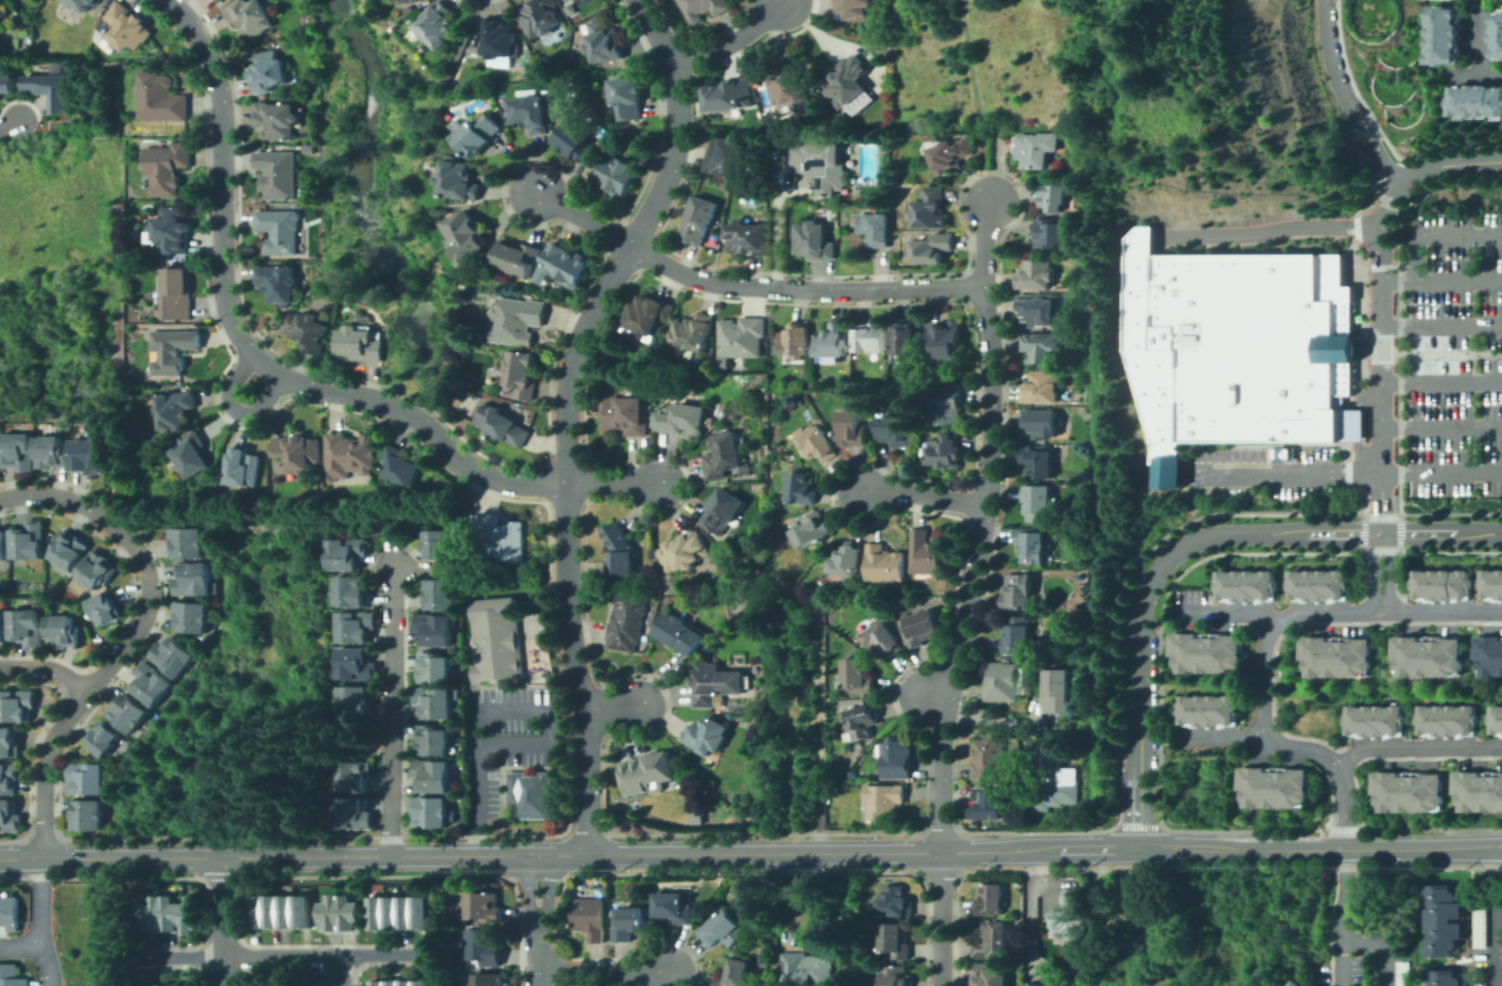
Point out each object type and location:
building: (216, 0)
building: (221, 1)
building: (406, 1)
building: (419, 1)
building: (83, 4)
building: (852, 7)
building: (704, 8)
building: (3, 12)
building: (251, 17)
building: (541, 17)
building: (438, 25)
building: (127, 28)
building: (1445, 36)
building: (1497, 36)
building: (498, 38)
road: (734, 41)
building: (606, 42)
road: (1479, 49)
park: (1387, 57)
building: (268, 72)
road: (1462, 76)
building: (847, 81)
building: (7, 83)
building: (787, 84)
building: (48, 90)
building: (730, 95)
building: (629, 96)
building: (160, 99)
road: (1346, 99)
building: (551, 101)
road: (977, 101)
building: (1477, 101)
building: (766, 110)
building: (531, 113)
building: (842, 117)
building: (277, 120)
road: (10, 125)
building: (773, 129)
building: (478, 135)
building: (845, 135)
building: (577, 143)
building: (1038, 149)
building: (952, 155)
building: (728, 157)
building: (817, 162)
building: (167, 167)
road: (1424, 170)
building: (279, 174)
building: (616, 176)
building: (458, 180)
building: (1058, 197)
building: (933, 209)
road: (586, 220)
building: (699, 220)
building: (875, 228)
building: (172, 231)
building: (280, 231)
building: (467, 232)
building: (1052, 233)
road: (1267, 233)
road: (1140, 236)
building: (747, 238)
road: (1421, 238)
building: (815, 241)
road: (984, 246)
building: (933, 248)
building: (518, 258)
building: (564, 265)
building: (1037, 274)
road: (1460, 280)
building: (278, 283)
road: (805, 289)
building: (177, 293)
building: (1039, 309)
building: (159, 313)
building: (650, 315)
building: (517, 321)
road: (1442, 326)
building: (309, 331)
building: (694, 331)
building: (871, 337)
building: (741, 338)
building: (946, 338)
building: (668, 340)
building: (796, 340)
building: (833, 340)
building: (907, 340)
building: (359, 345)
road: (244, 346)
building: (1042, 347)
building: (1240, 348)
building: (173, 350)
parking lot: (1456, 356)
road: (1122, 360)
building: (521, 374)
road: (1382, 381)
road: (1442, 382)
building: (482, 386)
building: (1043, 387)
building: (1077, 396)
building: (946, 403)
building: (175, 410)
road: (236, 411)
road: (569, 411)
building: (625, 415)
building: (682, 419)
building: (1042, 422)
building: (503, 426)
road: (1442, 428)
building: (851, 429)
building: (898, 431)
building: (817, 444)
building: (946, 450)
building: (18, 452)
building: (299, 452)
building: (51, 453)
building: (192, 454)
building: (87, 456)
building: (350, 456)
building: (725, 457)
building: (1037, 462)
building: (401, 467)
building: (244, 468)
parking lot: (1269, 471)
road: (1169, 474)
road: (1284, 474)
road: (1443, 474)
road: (615, 484)
building: (801, 488)
road: (922, 498)
building: (1037, 502)
building: (723, 510)
building: (812, 529)
road: (1443, 533)
building: (500, 538)
road: (1383, 539)
building: (28, 541)
building: (188, 543)
building: (437, 545)
building: (1031, 545)
building: (3, 546)
building: (68, 550)
building: (685, 551)
building: (621, 552)
building: (926, 552)
building: (346, 554)
building: (847, 560)
building: (885, 564)
building: (96, 571)
road: (409, 571)
road: (973, 571)
building: (193, 580)
building: (1319, 585)
building: (1442, 585)
building: (1492, 585)
building: (1247, 586)
building: (351, 590)
road: (1147, 590)
building: (1018, 591)
building: (442, 595)
building: (897, 603)
road: (1382, 604)
building: (104, 609)
road: (1382, 609)
road: (1227, 612)
building: (883, 613)
building: (739, 616)
road: (1291, 616)
building: (192, 618)
building: (628, 622)
building: (356, 626)
building: (2, 627)
building: (28, 628)
building: (921, 628)
building: (435, 630)
building: (63, 631)
building: (680, 633)
building: (1018, 634)
road: (133, 639)
building: (498, 639)
building: (883, 639)
building: (1209, 654)
building: (1490, 655)
building: (173, 657)
building: (1339, 658)
building: (1430, 658)
building: (355, 664)
building: (434, 668)
road: (46, 669)
building: (858, 676)
building: (1003, 683)
building: (151, 684)
building: (711, 684)
building: (1056, 691)
road: (932, 696)
road: (392, 700)
building: (354, 701)
building: (434, 702)
building: (16, 705)
road: (614, 710)
building: (1209, 710)
building: (128, 712)
road: (489, 712)
building: (1496, 720)
building: (863, 721)
building: (1375, 721)
building: (1447, 721)
building: (706, 736)
building: (1071, 737)
road: (1223, 737)
building: (1085, 738)
building: (104, 739)
building: (432, 741)
road: (1161, 742)
building: (8, 743)
road: (1416, 748)
building: (896, 758)
building: (989, 759)
building: (654, 767)
building: (432, 774)
building: (352, 777)
building: (89, 778)
building: (8, 779)
building: (1057, 781)
building: (1276, 788)
building: (1409, 793)
building: (1479, 793)
building: (531, 795)
building: (884, 800)
building: (988, 803)
road: (1345, 807)
building: (432, 813)
building: (352, 814)
building: (87, 815)
building: (9, 817)
road: (751, 853)
building: (1131, 897)
building: (991, 899)
building: (895, 902)
building: (483, 906)
building: (674, 908)
building: (286, 910)
building: (302, 910)
building: (257, 911)
building: (272, 911)
building: (406, 911)
building: (421, 911)
building: (8, 912)
building: (376, 912)
building: (392, 912)
building: (330, 913)
building: (349, 913)
road: (1032, 913)
building: (153, 914)
building: (171, 914)
building: (191, 914)
road: (1342, 917)
road: (1496, 917)
building: (591, 918)
road: (941, 919)
road: (537, 920)
building: (1069, 920)
building: (1444, 921)
road: (224, 922)
building: (629, 922)
road: (42, 923)
building: (1480, 929)
building: (723, 930)
building: (896, 940)
building: (992, 941)
building: (484, 947)
road: (21, 948)
road: (1380, 948)
road: (1499, 952)
road: (283, 957)
building: (805, 970)
road: (337, 971)
road: (605, 973)
building: (736, 973)
building: (1404, 974)
building: (10, 976)
building: (895, 976)
building: (988, 976)
building: (1447, 978)
building: (488, 980)
building: (377, 982)
building: (392, 982)
building: (407, 982)
building: (422, 982)
building: (1039, 983)
building: (1298, 983)
building: (143, 985)
building: (169, 985)
building: (181, 985)
building: (1477, 985)

